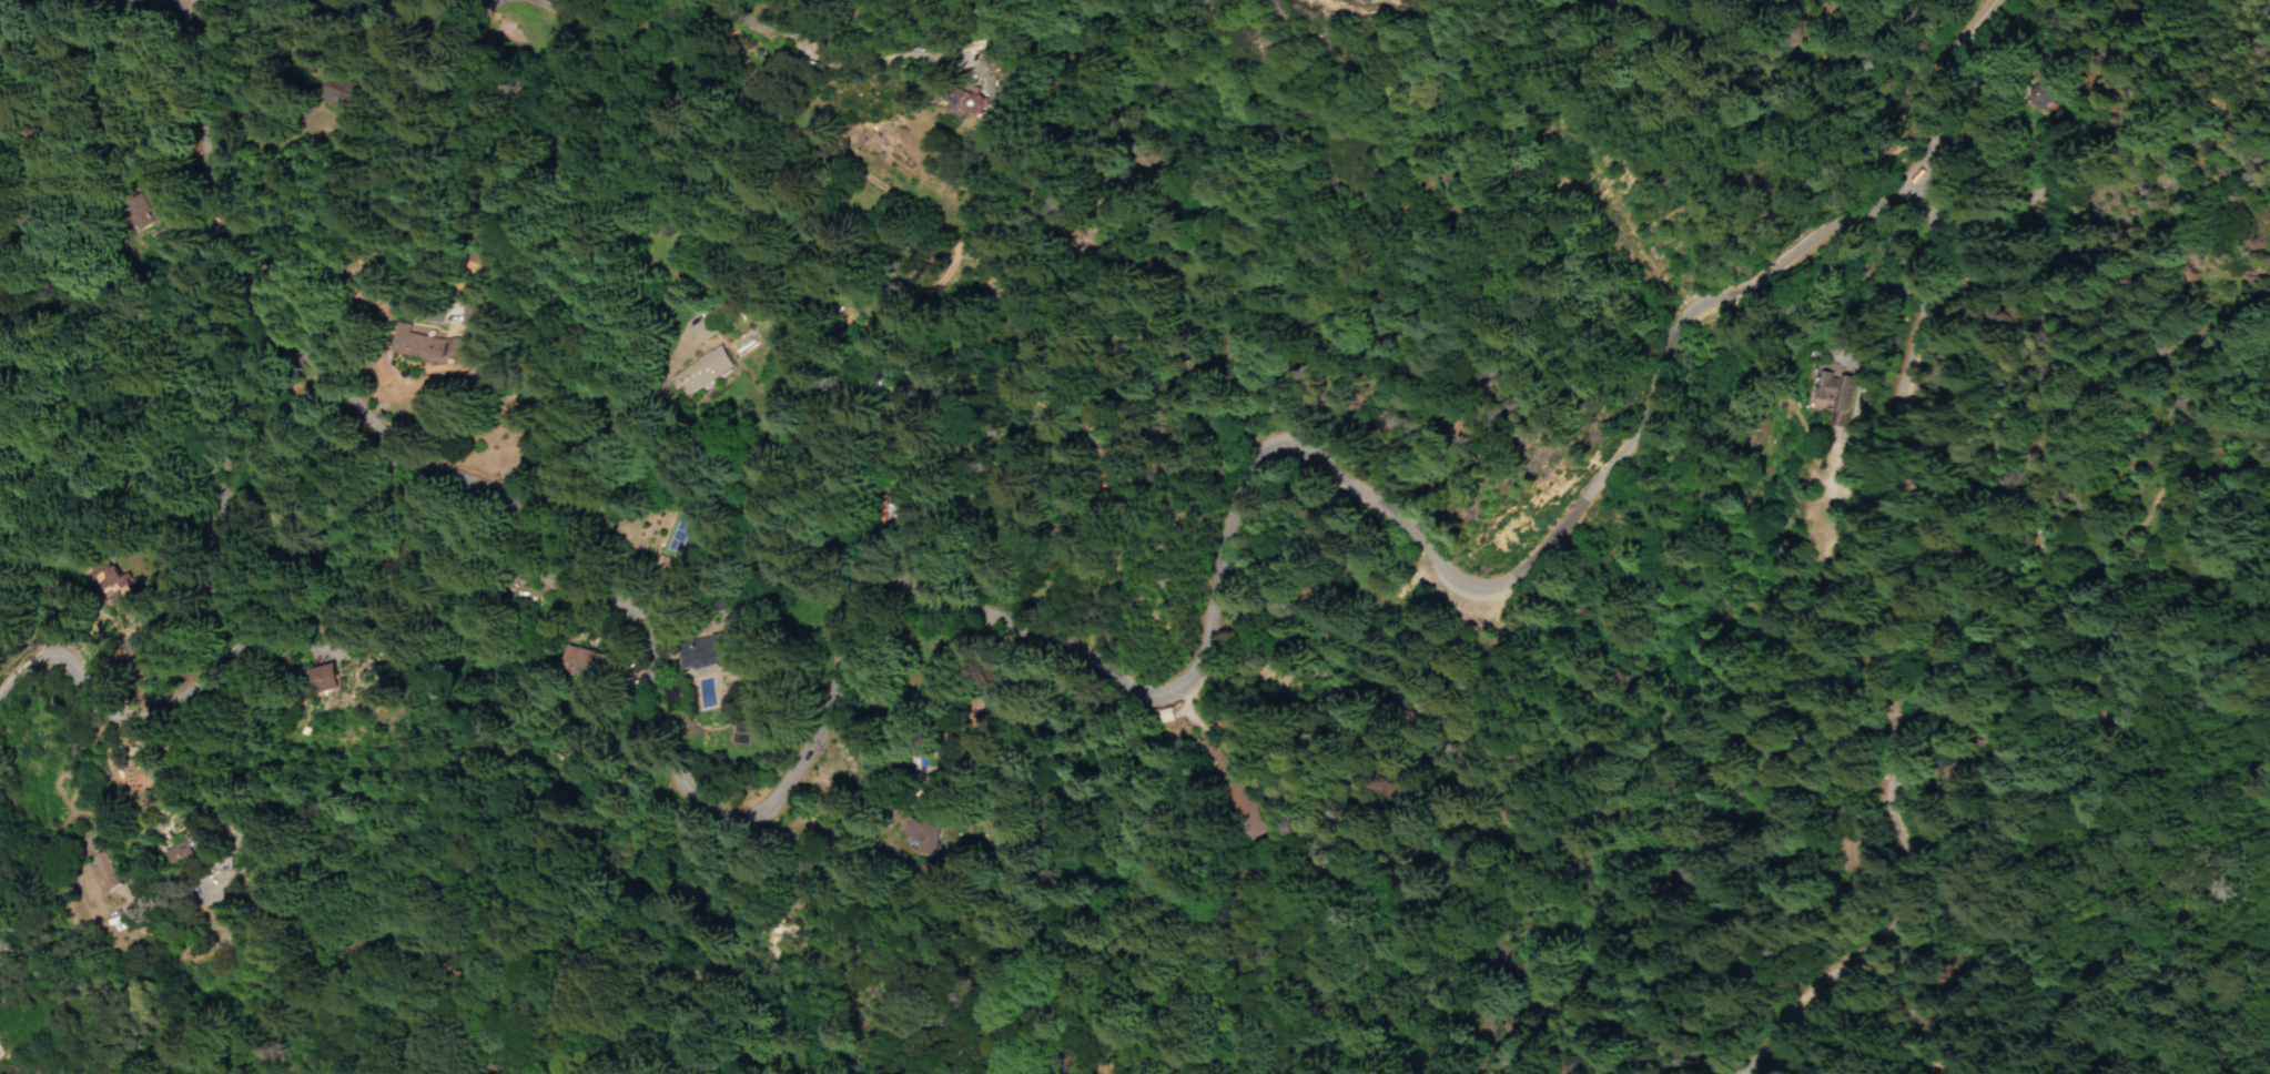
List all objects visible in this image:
road: (366, 1)
road: (376, 1)
road: (406, 1)
road: (154, 3)
road: (559, 12)
road: (807, 28)
road: (871, 60)
building: (318, 91)
road: (1904, 97)
building: (971, 101)
road: (1886, 164)
building: (1891, 173)
road: (1887, 192)
building: (114, 212)
road: (1917, 227)
building: (135, 233)
road: (251, 247)
road: (1868, 305)
building: (448, 310)
building: (406, 342)
building: (677, 371)
building: (1828, 393)
crop: (2096, 432)
road: (913, 578)
building: (90, 585)
building: (703, 646)
building: (572, 660)
building: (301, 678)
road: (1915, 690)
road: (205, 708)
road: (110, 716)
building: (1213, 750)
building: (1762, 764)
building: (1943, 771)
road: (212, 787)
building: (1246, 820)
building: (910, 831)
building: (184, 845)
building: (1835, 857)
building: (98, 869)
crop: (1473, 967)

